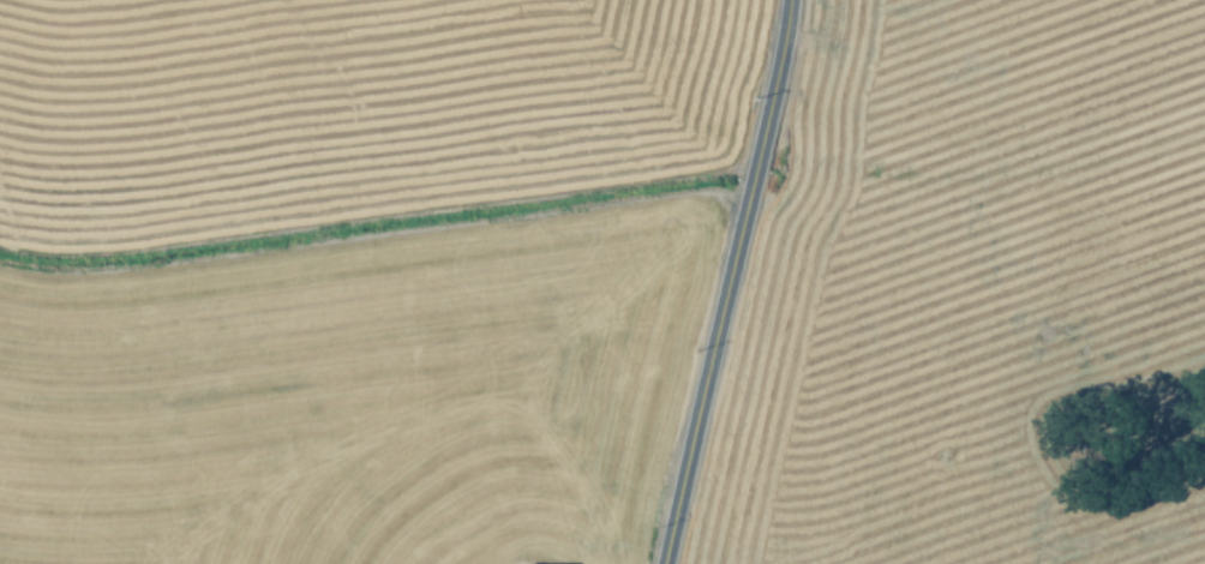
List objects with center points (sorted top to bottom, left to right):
crop: (349, 272)
road: (729, 282)
crop: (967, 292)
building: (524, 563)

